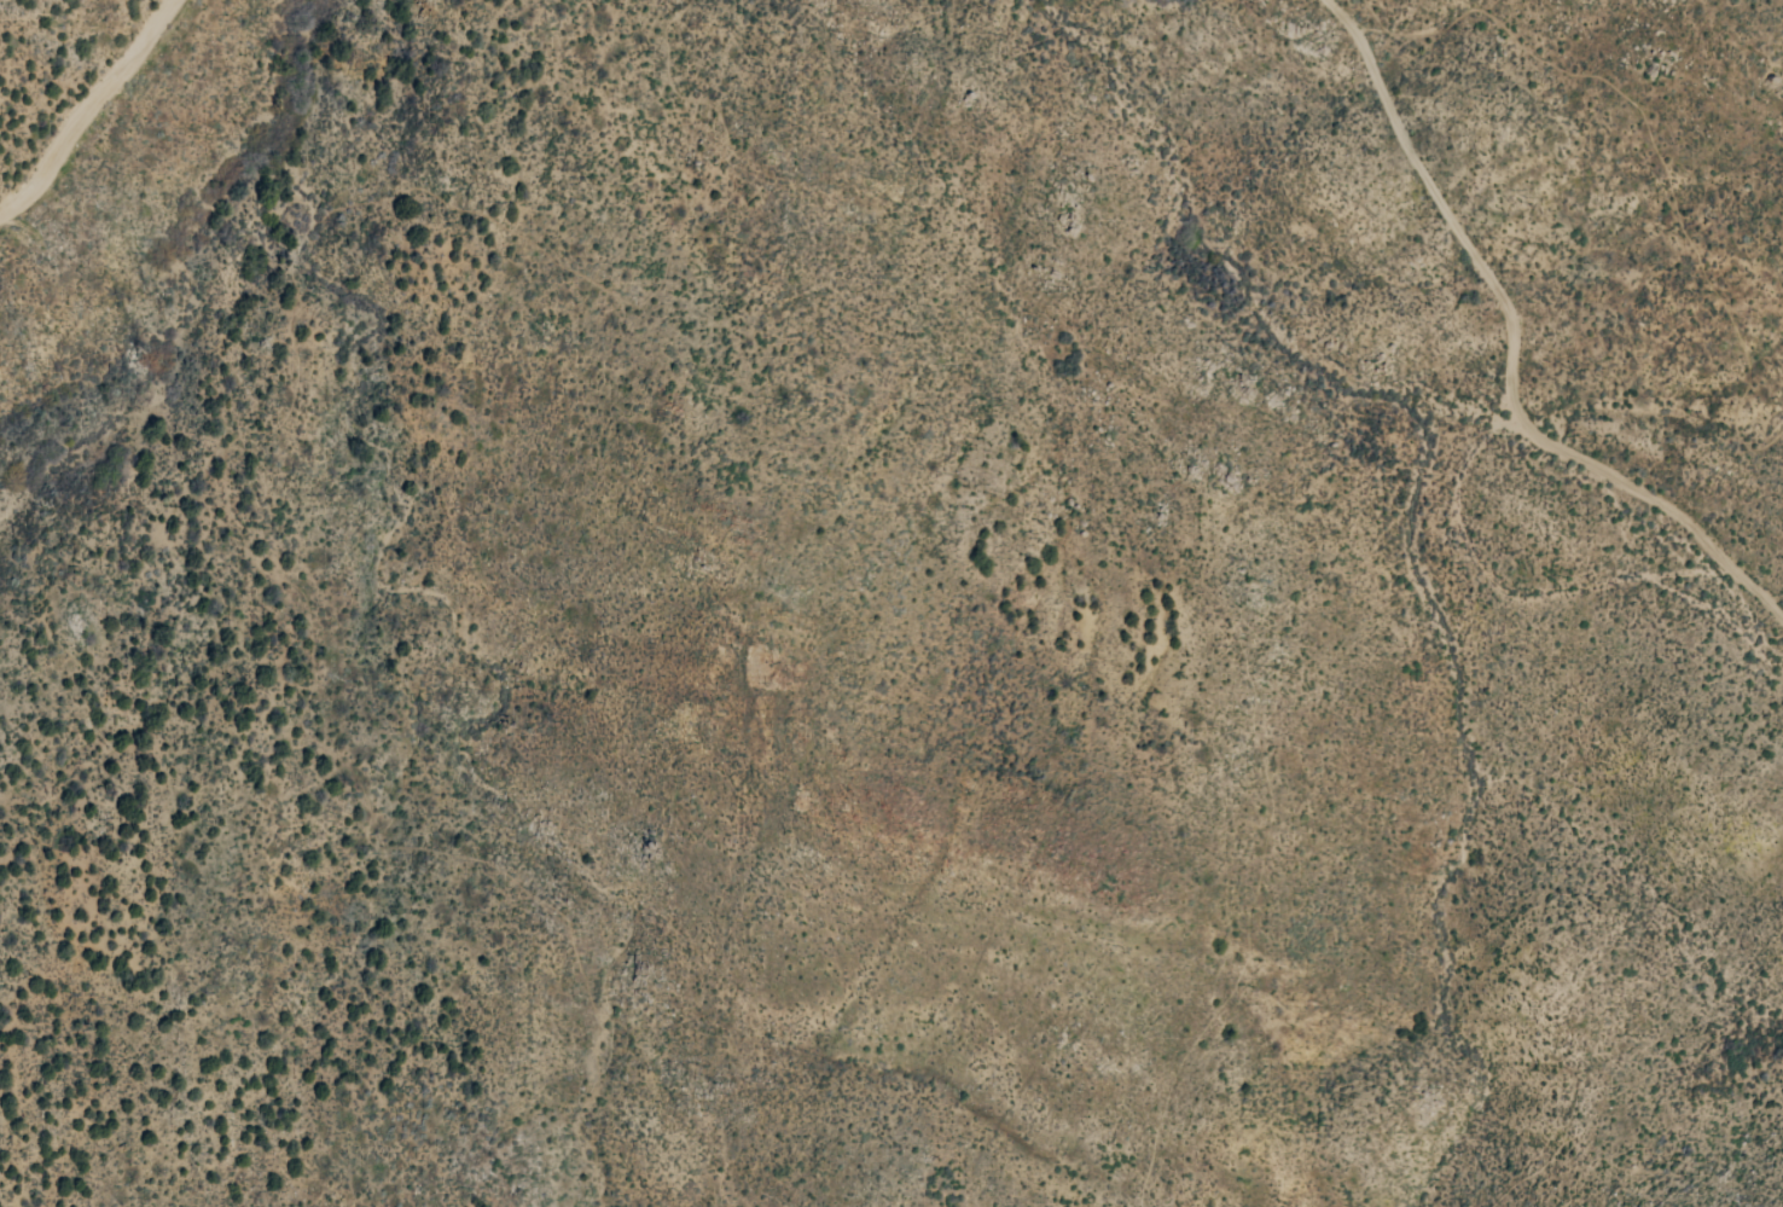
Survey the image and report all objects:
road: (82, 105)
road: (1569, 307)

